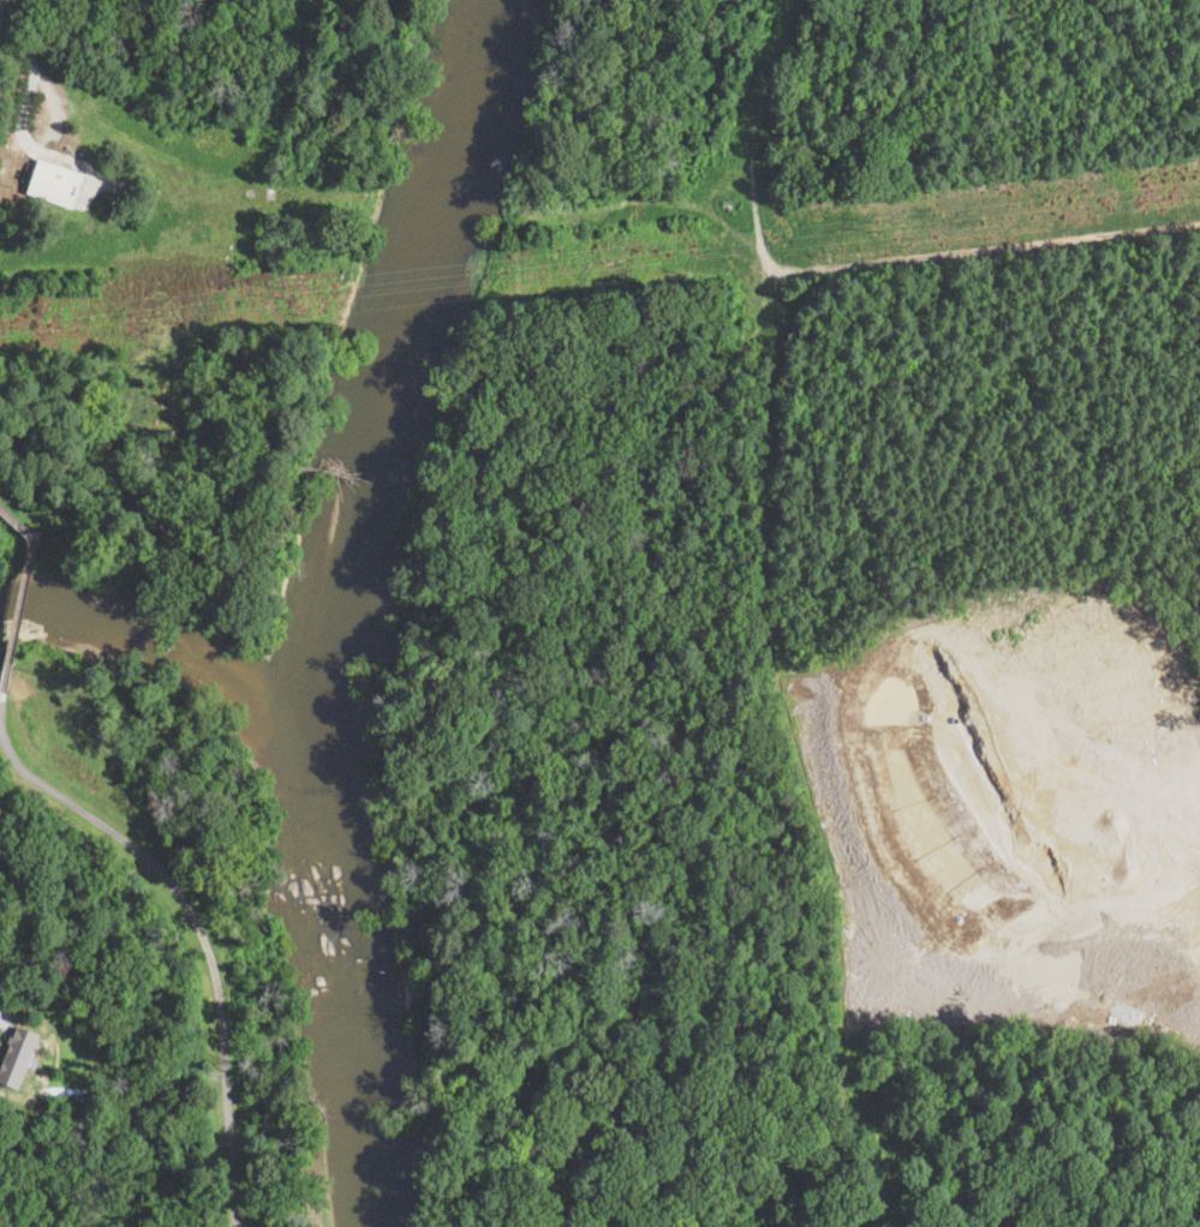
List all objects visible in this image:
road: (269, 74)
road: (24, 122)
building: (55, 184)
power tower: (877, 225)
road: (1022, 259)
power tower: (283, 289)
park: (180, 309)
building: (727, 313)
building: (740, 313)
road: (120, 499)
road: (17, 519)
river: (351, 607)
road: (19, 611)
road: (1, 696)
park: (124, 851)
road: (1069, 856)
road: (199, 930)
building: (17, 1055)

